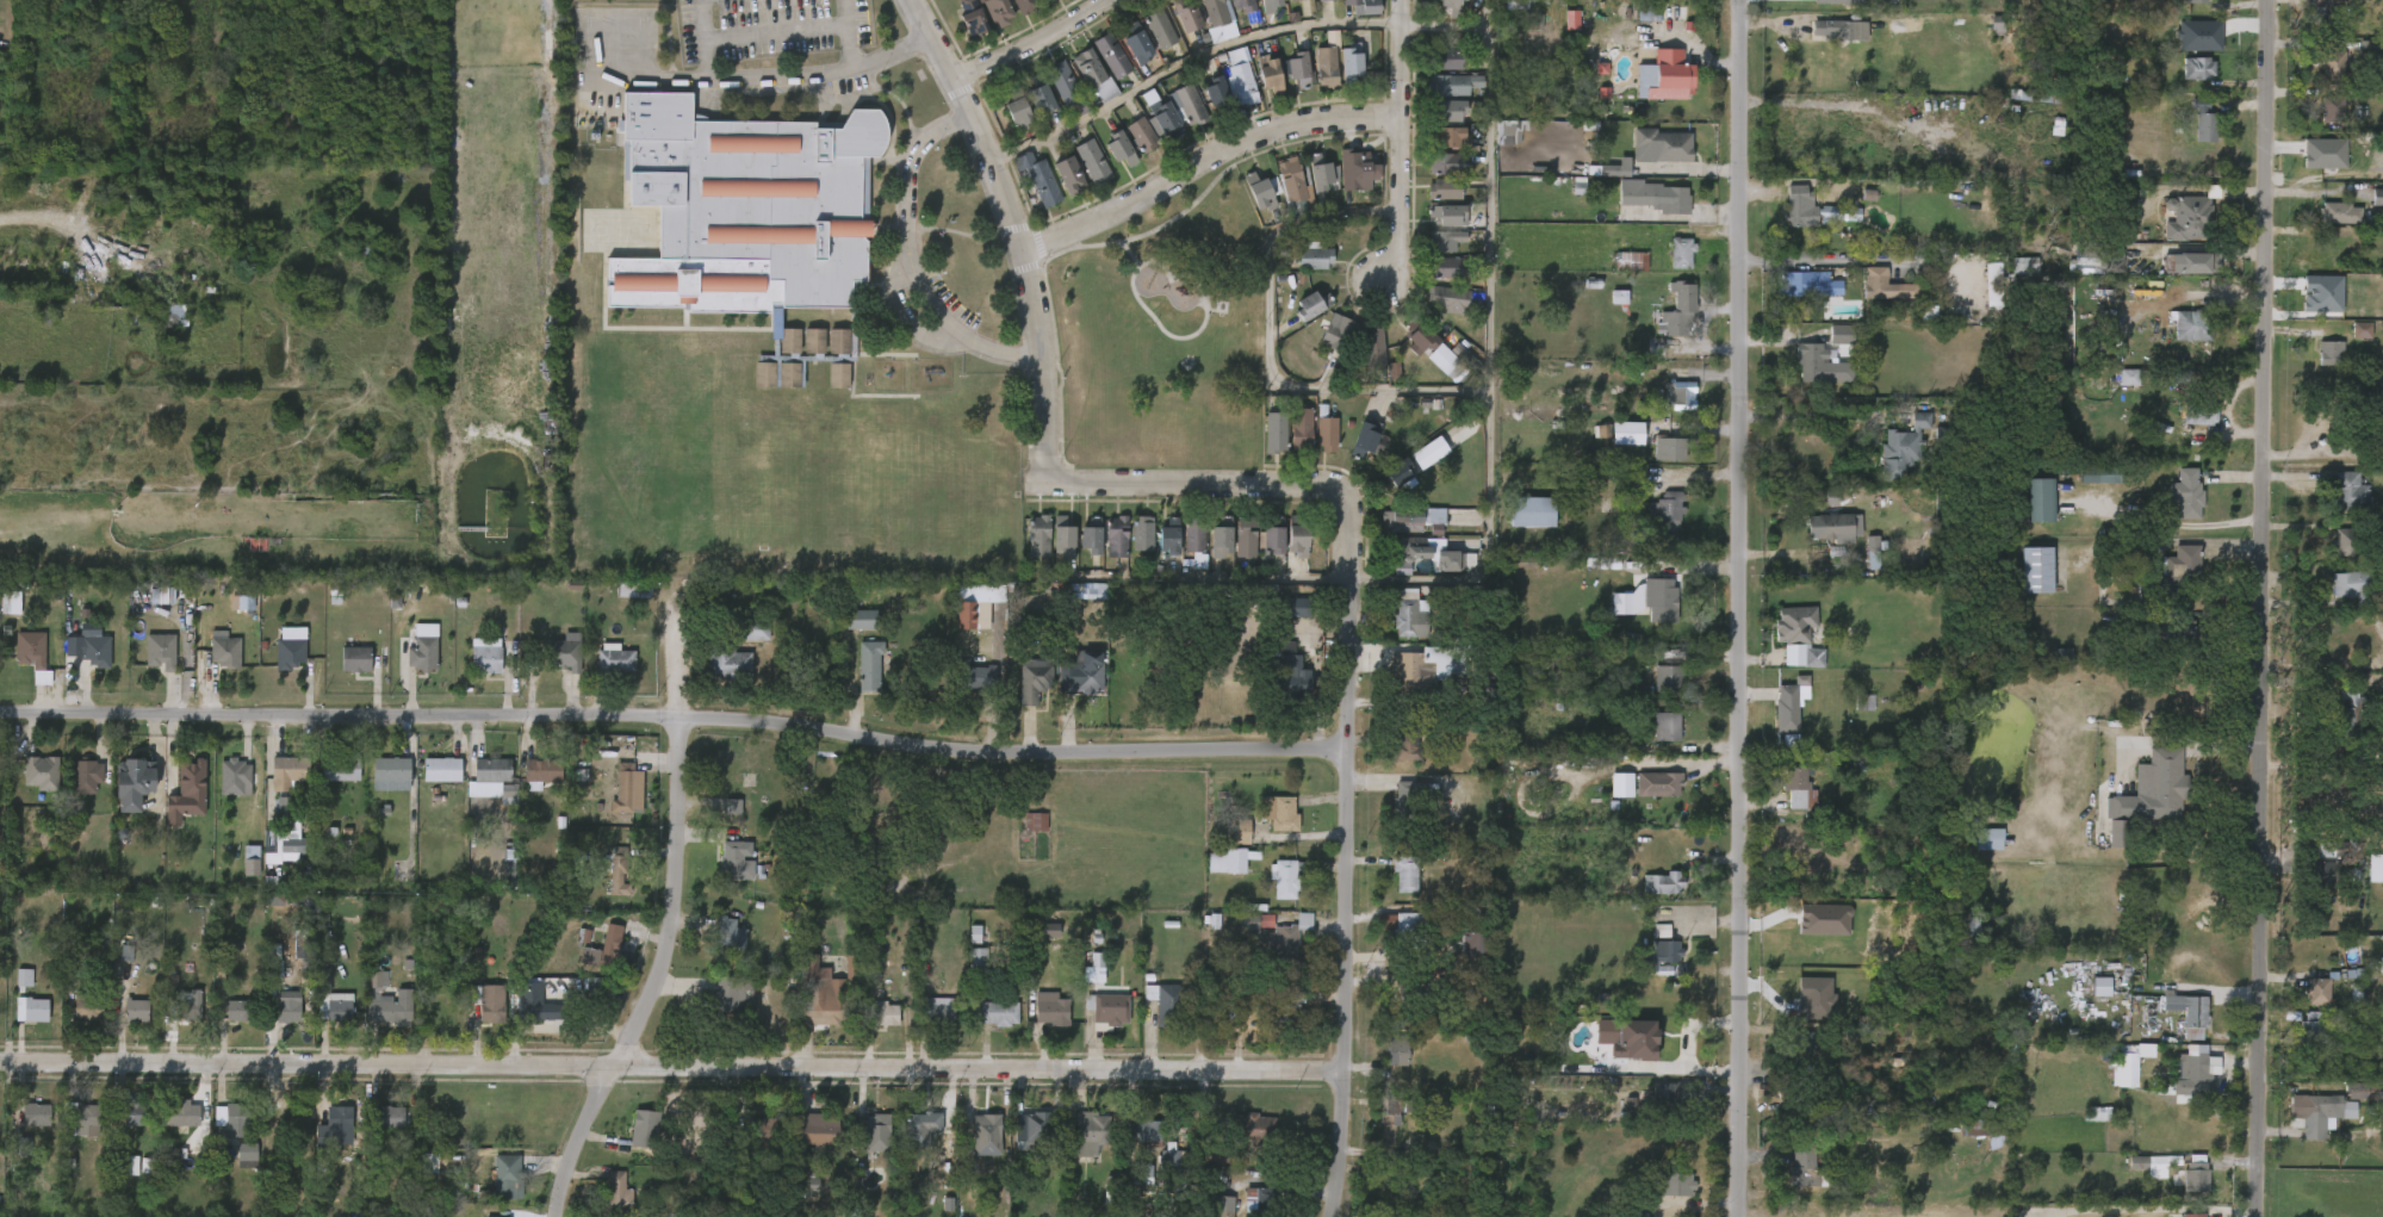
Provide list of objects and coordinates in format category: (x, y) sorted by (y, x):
building: (1043, 0)
building: (1047, 0)
building: (1057, 0)
building: (1321, 0)
building: (2316, 0)
building: (2315, 2)
building: (1239, 4)
building: (1655, 4)
building: (2198, 4)
building: (1361, 5)
building: (1023, 6)
building: (1267, 6)
building: (1282, 7)
building: (1447, 7)
building: (1787, 7)
building: (2182, 8)
building: (994, 11)
building: (1007, 13)
building: (1254, 13)
road: (1473, 13)
building: (1181, 14)
building: (1435, 14)
building: (1345, 15)
building: (967, 19)
building: (979, 19)
building: (1216, 19)
building: (956, 26)
building: (1156, 27)
building: (1171, 29)
building: (1202, 29)
building: (1838, 30)
road: (854, 33)
building: (1557, 35)
road: (1043, 43)
building: (1146, 44)
building: (1823, 44)
building: (1135, 45)
road: (899, 46)
building: (2376, 51)
building: (1109, 55)
building: (1122, 57)
road: (1192, 57)
building: (1346, 57)
building: (1445, 57)
building: (1323, 66)
building: (2369, 67)
building: (1295, 68)
building: (2197, 68)
building: (2332, 68)
building: (1084, 69)
building: (1097, 70)
building: (1669, 73)
building: (1266, 74)
building: (1435, 74)
building: (1237, 75)
building: (1335, 79)
building: (2316, 80)
road: (659, 81)
building: (1311, 82)
building: (1451, 82)
road: (746, 83)
building: (1283, 83)
building: (2183, 83)
building: (1061, 85)
building: (1211, 88)
building: (1254, 88)
building: (1079, 91)
building: (1649, 91)
building: (1227, 94)
building: (1026, 103)
building: (1051, 104)
building: (1187, 104)
building: (1200, 107)
building: (1446, 108)
building: (1162, 118)
building: (1433, 125)
building: (2316, 125)
building: (2204, 126)
building: (1003, 130)
building: (1138, 134)
road: (1400, 135)
building: (1448, 136)
building: (2189, 137)
building: (1663, 144)
building: (1116, 148)
building: (1493, 148)
building: (1434, 153)
building: (1646, 161)
building: (1090, 162)
building: (1447, 162)
building: (1105, 164)
road: (1211, 168)
building: (1353, 169)
building: (1318, 173)
building: (1063, 176)
building: (1076, 176)
building: (1434, 178)
building: (1292, 179)
building: (1037, 180)
building: (1601, 184)
building: (1342, 185)
building: (1441, 188)
building: (1054, 190)
building: (1024, 193)
building: (1261, 193)
building: (2377, 194)
building: (1670, 199)
building: (1279, 201)
building: (1428, 205)
building: (1800, 206)
building: (1243, 207)
building: (1638, 211)
building: (2340, 212)
building: (2366, 212)
building: (1444, 213)
building: (2186, 218)
building: (1785, 222)
road: (1023, 223)
building: (1824, 228)
building: (1432, 229)
building: (2323, 229)
building: (770, 231)
building: (2171, 232)
building: (1442, 238)
building: (1682, 253)
building: (1312, 255)
building: (1429, 255)
road: (1854, 257)
road: (907, 259)
building: (1633, 261)
building: (2193, 263)
building: (1444, 267)
building: (1665, 268)
building: (1299, 271)
building: (1615, 277)
building: (2174, 278)
building: (2009, 280)
building: (1874, 281)
building: (1429, 282)
building: (1991, 282)
building: (1799, 284)
building: (1450, 299)
building: (1791, 299)
building: (1978, 299)
building: (1868, 300)
building: (1307, 303)
building: (1681, 309)
building: (1603, 312)
building: (1432, 315)
building: (169, 316)
building: (1297, 319)
building: (1664, 324)
road: (1487, 325)
building: (2192, 325)
building: (163, 329)
building: (1338, 334)
building: (1839, 334)
building: (1417, 336)
building: (2177, 341)
building: (1322, 347)
road: (1266, 348)
building: (1825, 349)
building: (1403, 352)
building: (1374, 354)
building: (1358, 362)
building: (1813, 362)
building: (2326, 362)
building: (2314, 368)
building: (1427, 373)
building: (1800, 379)
building: (777, 387)
building: (749, 389)
building: (2112, 392)
building: (1680, 396)
building: (1663, 411)
building: (2198, 411)
road: (1819, 414)
building: (1302, 429)
building: (1327, 430)
building: (2184, 430)
building: (1276, 433)
building: (1367, 441)
building: (1658, 441)
building: (1286, 443)
building: (1260, 447)
building: (1611, 448)
building: (1900, 448)
building: (1311, 449)
building: (1349, 453)
building: (1655, 464)
building: (1396, 476)
road: (1185, 488)
building: (1380, 488)
building: (2081, 490)
building: (2348, 491)
building: (2185, 492)
building: (2334, 505)
building: (2171, 508)
building: (1529, 511)
building: (2024, 515)
building: (1411, 520)
building: (1667, 520)
building: (1516, 527)
building: (1832, 527)
building: (1650, 532)
building: (1140, 533)
building: (1394, 534)
building: (1268, 535)
building: (1035, 536)
building: (1086, 536)
building: (1165, 536)
building: (1292, 536)
building: (1059, 538)
building: (1113, 538)
building: (1242, 539)
building: (1192, 541)
building: (1215, 542)
building: (1818, 542)
building: (2348, 542)
building: (1127, 547)
building: (1076, 549)
building: (1282, 549)
building: (1409, 549)
building: (1023, 551)
building: (1101, 551)
building: (1258, 551)
building: (1154, 552)
building: (1048, 553)
building: (1205, 555)
building: (2328, 557)
building: (1180, 558)
building: (1230, 559)
building: (1456, 561)
building: (2180, 561)
building: (1395, 563)
building: (1857, 567)
building: (1434, 576)
building: (2161, 583)
building: (2021, 584)
building: (2351, 585)
building: (1662, 594)
building: (2333, 598)
building: (619, 604)
building: (1289, 607)
road: (1740, 608)
road: (2261, 608)
building: (1628, 611)
building: (1409, 613)
building: (860, 614)
building: (964, 615)
building: (2, 616)
building: (1082, 616)
building: (1282, 622)
building: (755, 628)
building: (1395, 628)
building: (846, 634)
building: (1798, 637)
building: (2171, 645)
building: (740, 646)
building: (288, 647)
building: (94, 650)
building: (160, 650)
building: (225, 651)
building: (1782, 651)
building: (422, 652)
building: (566, 652)
building: (31, 654)
building: (354, 658)
building: (485, 658)
building: (614, 658)
building: (80, 660)
building: (277, 662)
building: (728, 662)
building: (409, 663)
building: (869, 663)
building: (210, 664)
building: (147, 665)
building: (552, 668)
building: (19, 670)
building: (471, 670)
building: (341, 673)
building: (601, 673)
building: (1086, 673)
building: (1408, 676)
building: (973, 678)
building: (714, 679)
building: (855, 679)
building: (1669, 679)
building: (1034, 681)
building: (1292, 681)
building: (1277, 684)
building: (1073, 687)
building: (964, 694)
building: (1019, 694)
building: (1651, 694)
building: (1787, 704)
building: (1774, 718)
road: (674, 721)
building: (1668, 725)
building: (2334, 727)
building: (1651, 741)
building: (1407, 745)
building: (1390, 762)
building: (443, 768)
building: (342, 769)
building: (542, 769)
building: (290, 771)
building: (42, 772)
building: (491, 772)
building: (392, 774)
building: (87, 776)
building: (235, 776)
building: (137, 782)
building: (1668, 783)
building: (196, 784)
building: (325, 784)
building: (427, 784)
building: (27, 787)
building: (273, 787)
building: (626, 787)
building: (1795, 787)
building: (377, 788)
building: (527, 788)
building: (73, 790)
building: (221, 791)
building: (478, 795)
building: (2146, 795)
building: (119, 797)
building: (1409, 797)
building: (178, 799)
building: (1606, 799)
building: (1643, 799)
building: (1782, 802)
building: (613, 803)
building: (1278, 813)
building: (1389, 814)
building: (718, 821)
building: (1265, 826)
building: (1235, 831)
building: (1020, 836)
building: (1985, 842)
road: (1343, 846)
building: (271, 847)
building: (1223, 847)
building: (2102, 847)
building: (1972, 853)
building: (1227, 861)
building: (737, 862)
building: (620, 870)
building: (1407, 873)
building: (237, 875)
building: (494, 875)
building: (721, 875)
building: (1211, 875)
building: (1285, 877)
building: (1659, 880)
building: (603, 887)
building: (2306, 888)
building: (2365, 889)
building: (1391, 892)
building: (1270, 893)
building: (1647, 898)
building: (1246, 924)
road: (679, 929)
building: (1407, 931)
building: (730, 933)
building: (1807, 935)
building: (1239, 936)
building: (1383, 939)
building: (1280, 940)
building: (1034, 944)
building: (608, 945)
building: (715, 948)
building: (567, 949)
building: (1794, 949)
building: (1661, 954)
building: (1266, 956)
building: (1457, 957)
building: (595, 958)
building: (283, 961)
building: (978, 961)
building: (575, 969)
building: (961, 974)
building: (1079, 981)
building: (2098, 988)
building: (10, 992)
building: (82, 993)
building: (2315, 993)
building: (731, 995)
building: (824, 999)
building: (2085, 1000)
building: (490, 1002)
building: (1166, 1002)
building: (536, 1004)
building: (2302, 1006)
building: (30, 1008)
building: (190, 1010)
building: (240, 1010)
building: (391, 1010)
building: (719, 1010)
building: (808, 1010)
building: (137, 1011)
building: (287, 1011)
building: (340, 1011)
building: (937, 1011)
building: (1106, 1011)
building: (880, 1012)
building: (999, 1012)
building: (1053, 1012)
building: (2185, 1016)
building: (477, 1018)
building: (173, 1019)
building: (521, 1019)
building: (73, 1020)
building: (1153, 1020)
building: (319, 1022)
building: (17, 1024)
building: (925, 1024)
building: (1035, 1024)
building: (122, 1025)
building: (223, 1025)
building: (273, 1025)
building: (1094, 1025)
building: (983, 1026)
building: (869, 1027)
building: (2172, 1027)
building: (2308, 1029)
building: (2294, 1037)
building: (1802, 1042)
building: (1398, 1050)
building: (1619, 1053)
building: (1791, 1056)
road: (671, 1063)
building: (1380, 1066)
building: (2192, 1070)
building: (1665, 1098)
building: (1646, 1106)
building: (2358, 1106)
building: (35, 1113)
building: (188, 1113)
building: (134, 1114)
building: (390, 1116)
building: (2315, 1116)
building: (79, 1118)
building: (238, 1119)
building: (1390, 1122)
building: (923, 1124)
building: (336, 1125)
building: (119, 1128)
building: (169, 1128)
building: (21, 1129)
building: (645, 1129)
building: (1254, 1129)
building: (1975, 1129)
building: (1029, 1130)
building: (376, 1131)
building: (768, 1131)
building: (823, 1131)
building: (876, 1132)
building: (1091, 1132)
building: (1144, 1132)
building: (218, 1134)
building: (986, 1134)
building: (1374, 1136)
building: (324, 1140)
building: (906, 1142)
building: (1957, 1142)
building: (629, 1143)
building: (805, 1143)
building: (1242, 1143)
building: (1017, 1144)
building: (750, 1145)
building: (1128, 1145)
building: (862, 1147)
building: (1074, 1147)
building: (972, 1149)
building: (242, 1153)
building: (1979, 1156)
building: (129, 1162)
building: (1171, 1162)
building: (2153, 1163)
building: (1805, 1166)
building: (232, 1169)
building: (1154, 1173)
building: (507, 1176)
building: (2192, 1178)
building: (116, 1179)
building: (2137, 1179)
building: (1788, 1181)
building: (1663, 1190)
building: (492, 1191)
building: (2180, 1191)
building: (616, 1196)
building: (798, 1199)
building: (1664, 1199)
building: (603, 1202)
building: (1266, 1203)
building: (1248, 1209)
building: (2184, 1215)

